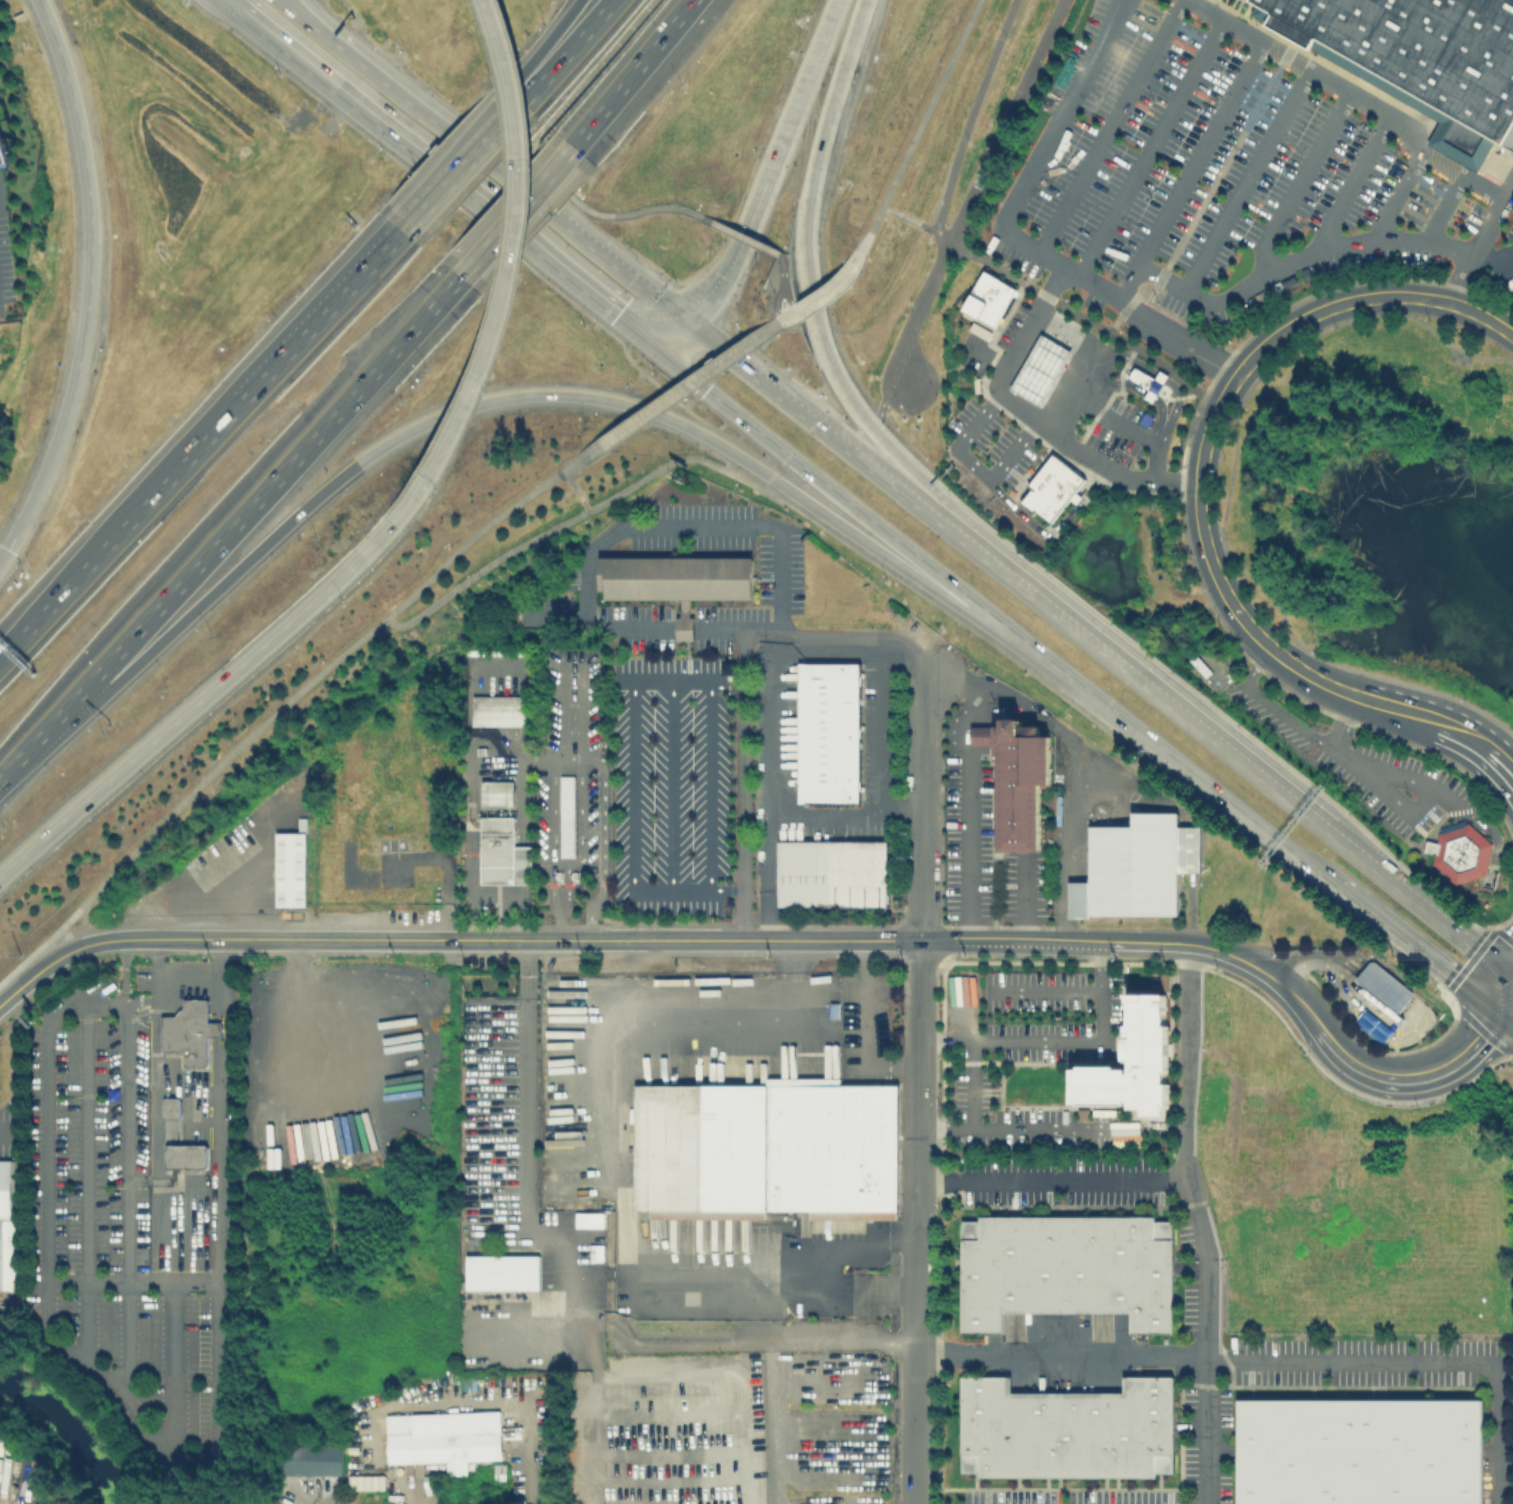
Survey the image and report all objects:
road: (283, 2)
road: (286, 2)
road: (231, 4)
road: (360, 27)
road: (320, 31)
road: (551, 54)
road: (570, 54)
building: (1422, 59)
road: (626, 72)
road: (581, 78)
road: (1350, 95)
road: (401, 96)
road: (1108, 126)
road: (1422, 129)
road: (915, 133)
road: (1457, 146)
road: (1149, 147)
road: (471, 150)
parking lot: (1214, 157)
road: (468, 166)
road: (770, 166)
road: (1497, 168)
road: (1188, 169)
road: (452, 177)
road: (1246, 180)
road: (1298, 181)
road: (1349, 182)
road: (973, 186)
road: (1396, 194)
road: (1202, 202)
road: (513, 206)
road: (1442, 207)
road: (607, 213)
road: (804, 220)
road: (1008, 234)
road: (740, 235)
road: (591, 244)
road: (1480, 244)
road: (513, 247)
road: (1315, 250)
road: (972, 252)
road: (1512, 266)
road: (89, 277)
road: (784, 286)
road: (826, 290)
road: (789, 299)
building: (993, 299)
traffic signals: (619, 310)
road: (327, 316)
road: (790, 316)
road: (777, 324)
road: (676, 338)
road: (708, 339)
parking lot: (1000, 340)
road: (986, 355)
road: (1125, 355)
road: (1083, 358)
traffic signals: (734, 359)
building: (1045, 368)
gas station: (1045, 368)
road: (683, 369)
road: (715, 370)
road: (753, 374)
road: (1165, 379)
road: (1115, 383)
building: (1152, 384)
road: (687, 386)
road: (1154, 398)
road: (492, 399)
road: (881, 400)
road: (1162, 413)
road: (1169, 413)
road: (1030, 415)
road: (1129, 429)
parking lot: (1118, 432)
road: (961, 438)
parking lot: (995, 441)
road: (1203, 449)
road: (1011, 450)
road: (592, 451)
road: (1155, 462)
road: (573, 464)
road: (874, 469)
road: (279, 470)
road: (574, 472)
road: (1096, 480)
road: (922, 487)
building: (1058, 487)
road: (836, 492)
road: (1082, 497)
road: (407, 500)
road: (571, 519)
road: (1033, 524)
road: (698, 526)
road: (120, 536)
road: (871, 537)
traffic signals: (8, 547)
road: (4, 552)
building: (680, 582)
road: (170, 614)
road: (598, 623)
road: (689, 628)
road: (822, 637)
building: (1199, 667)
road: (690, 686)
road: (1149, 686)
road: (294, 692)
road: (197, 701)
road: (1271, 706)
building: (502, 713)
road: (48, 719)
building: (829, 732)
road: (1474, 735)
road: (887, 738)
road: (771, 741)
road: (1362, 771)
road: (602, 775)
building: (1016, 777)
road: (972, 782)
road: (744, 785)
road: (635, 789)
road: (674, 789)
road: (713, 789)
road: (1440, 792)
building: (496, 793)
road: (1059, 794)
road: (921, 803)
road: (1233, 806)
road: (469, 816)
building: (567, 816)
road: (579, 823)
building: (1458, 851)
building: (502, 854)
building: (1132, 867)
building: (831, 871)
building: (295, 873)
road: (551, 890)
road: (566, 890)
road: (689, 892)
road: (1427, 906)
road: (469, 916)
road: (558, 928)
road: (257, 940)
road: (536, 940)
road: (691, 940)
road: (846, 940)
road: (986, 941)
road: (1145, 943)
road: (24, 963)
road: (525, 968)
road: (1260, 970)
road: (126, 972)
road: (27, 981)
road: (188, 984)
building: (1158, 984)
road: (1449, 988)
road: (1048, 991)
building: (1384, 991)
road: (1509, 992)
building: (959, 993)
road: (1299, 999)
traffic signals: (1505, 1000)
road: (1509, 1003)
building: (1375, 1028)
building: (195, 1036)
road: (1397, 1038)
road: (1062, 1043)
building: (1136, 1061)
road: (1414, 1078)
road: (221, 1080)
road: (976, 1086)
road: (158, 1087)
road: (131, 1093)
building: (176, 1103)
road: (1185, 1103)
parking lot: (8, 1126)
road: (948, 1130)
road: (1056, 1130)
road: (1160, 1130)
road: (190, 1131)
building: (765, 1147)
building: (190, 1152)
road: (618, 1167)
road: (175, 1179)
road: (1055, 1180)
road: (89, 1183)
building: (589, 1219)
road: (919, 1222)
road: (539, 1223)
building: (8, 1232)
parking lot: (123, 1235)
road: (842, 1246)
building: (1065, 1269)
building: (502, 1271)
road: (132, 1281)
road: (130, 1291)
road: (588, 1324)
road: (758, 1337)
road: (769, 1343)
road: (1063, 1353)
road: (1352, 1360)
road: (93, 1365)
road: (174, 1368)
road: (1208, 1381)
road: (440, 1404)
road: (771, 1426)
building: (1067, 1429)
road: (1496, 1432)
building: (445, 1435)
building: (1360, 1451)
building: (312, 1459)
building: (366, 1482)

